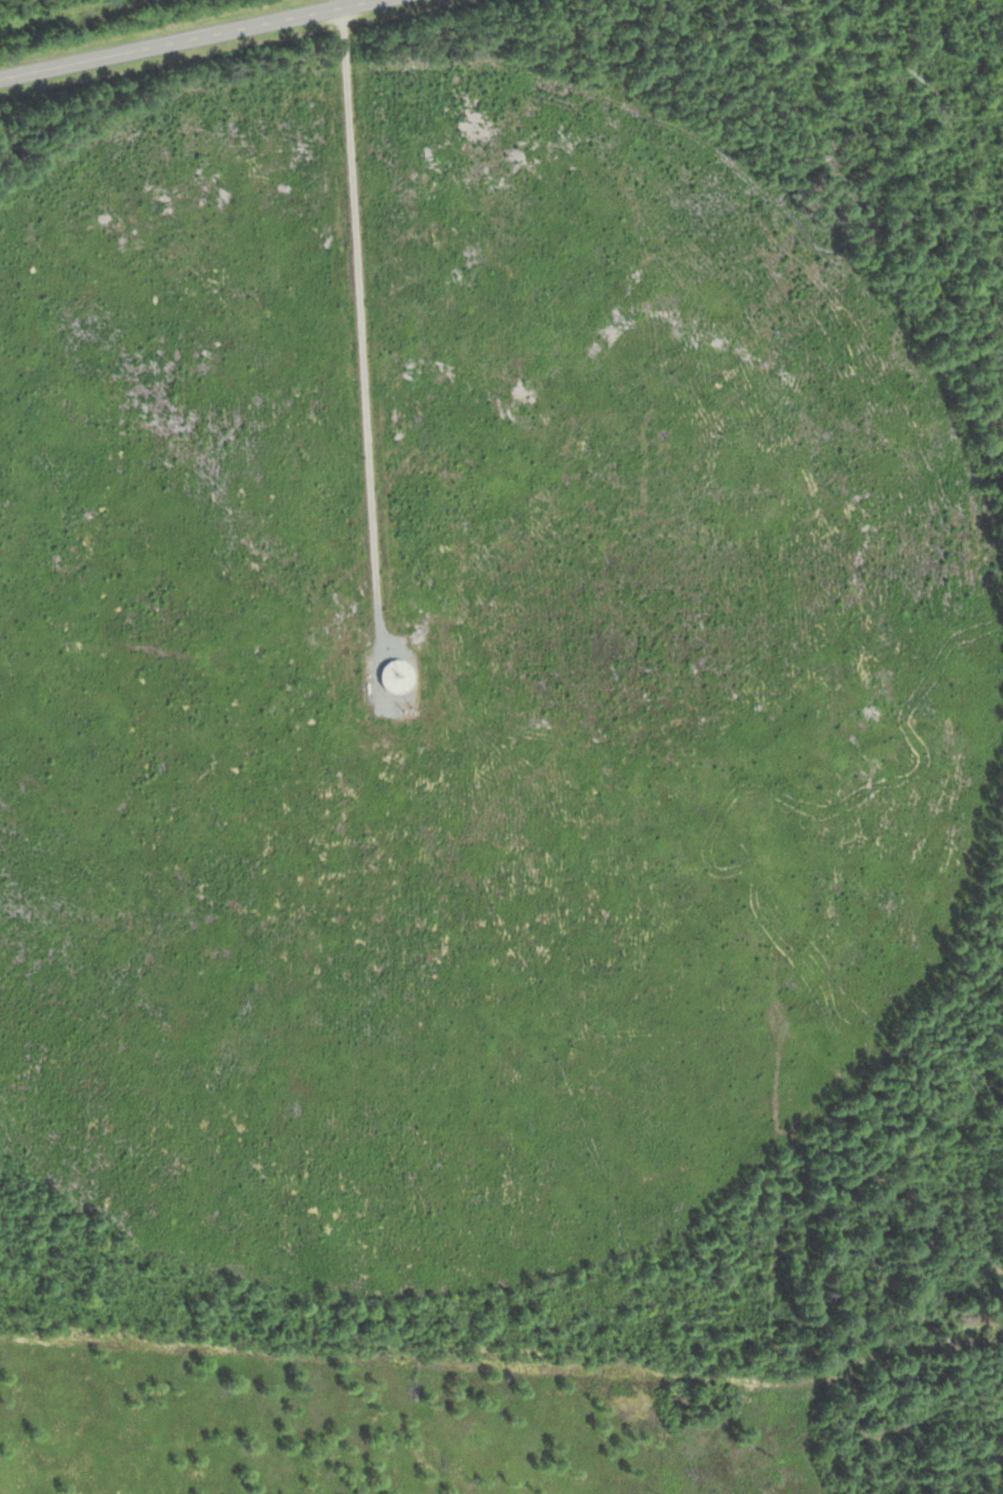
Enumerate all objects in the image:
road: (188, 39)
road: (367, 410)
building: (393, 677)
road: (776, 1278)
road: (990, 1329)
road: (805, 1380)

